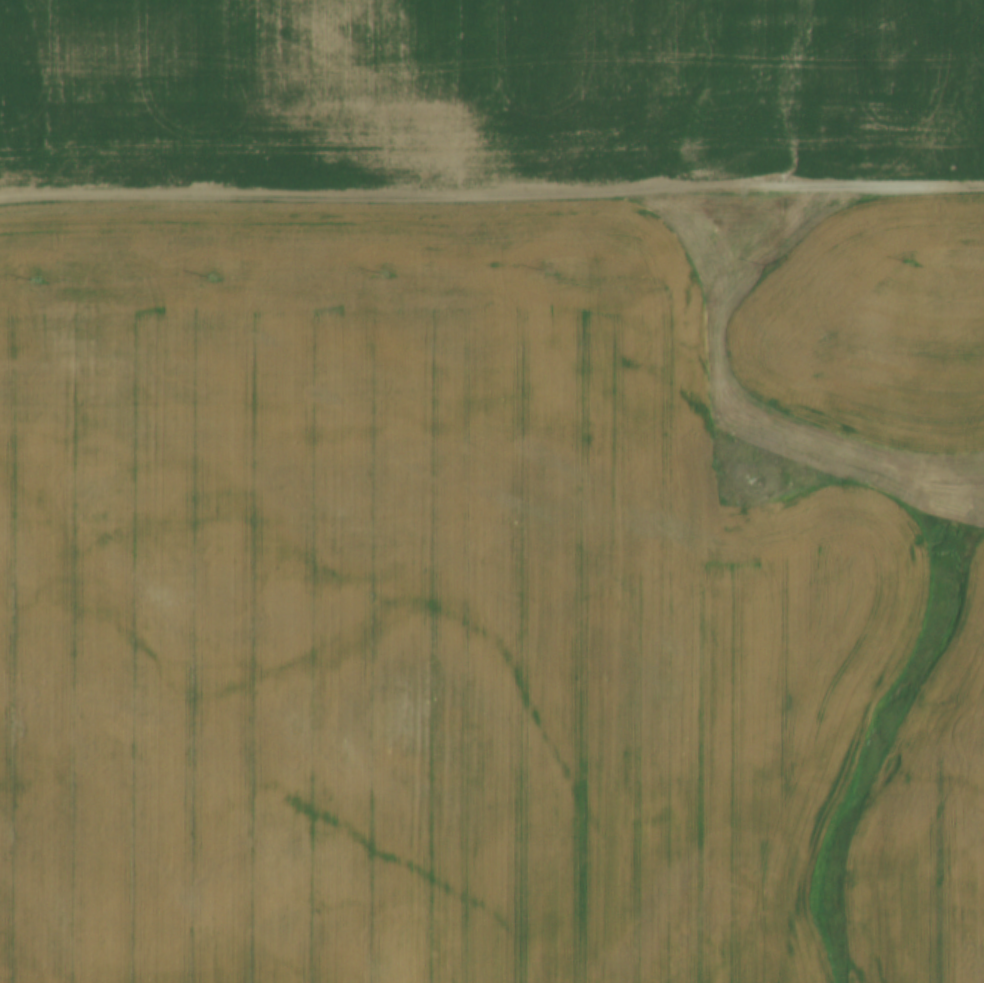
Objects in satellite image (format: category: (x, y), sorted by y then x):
road: (491, 197)

